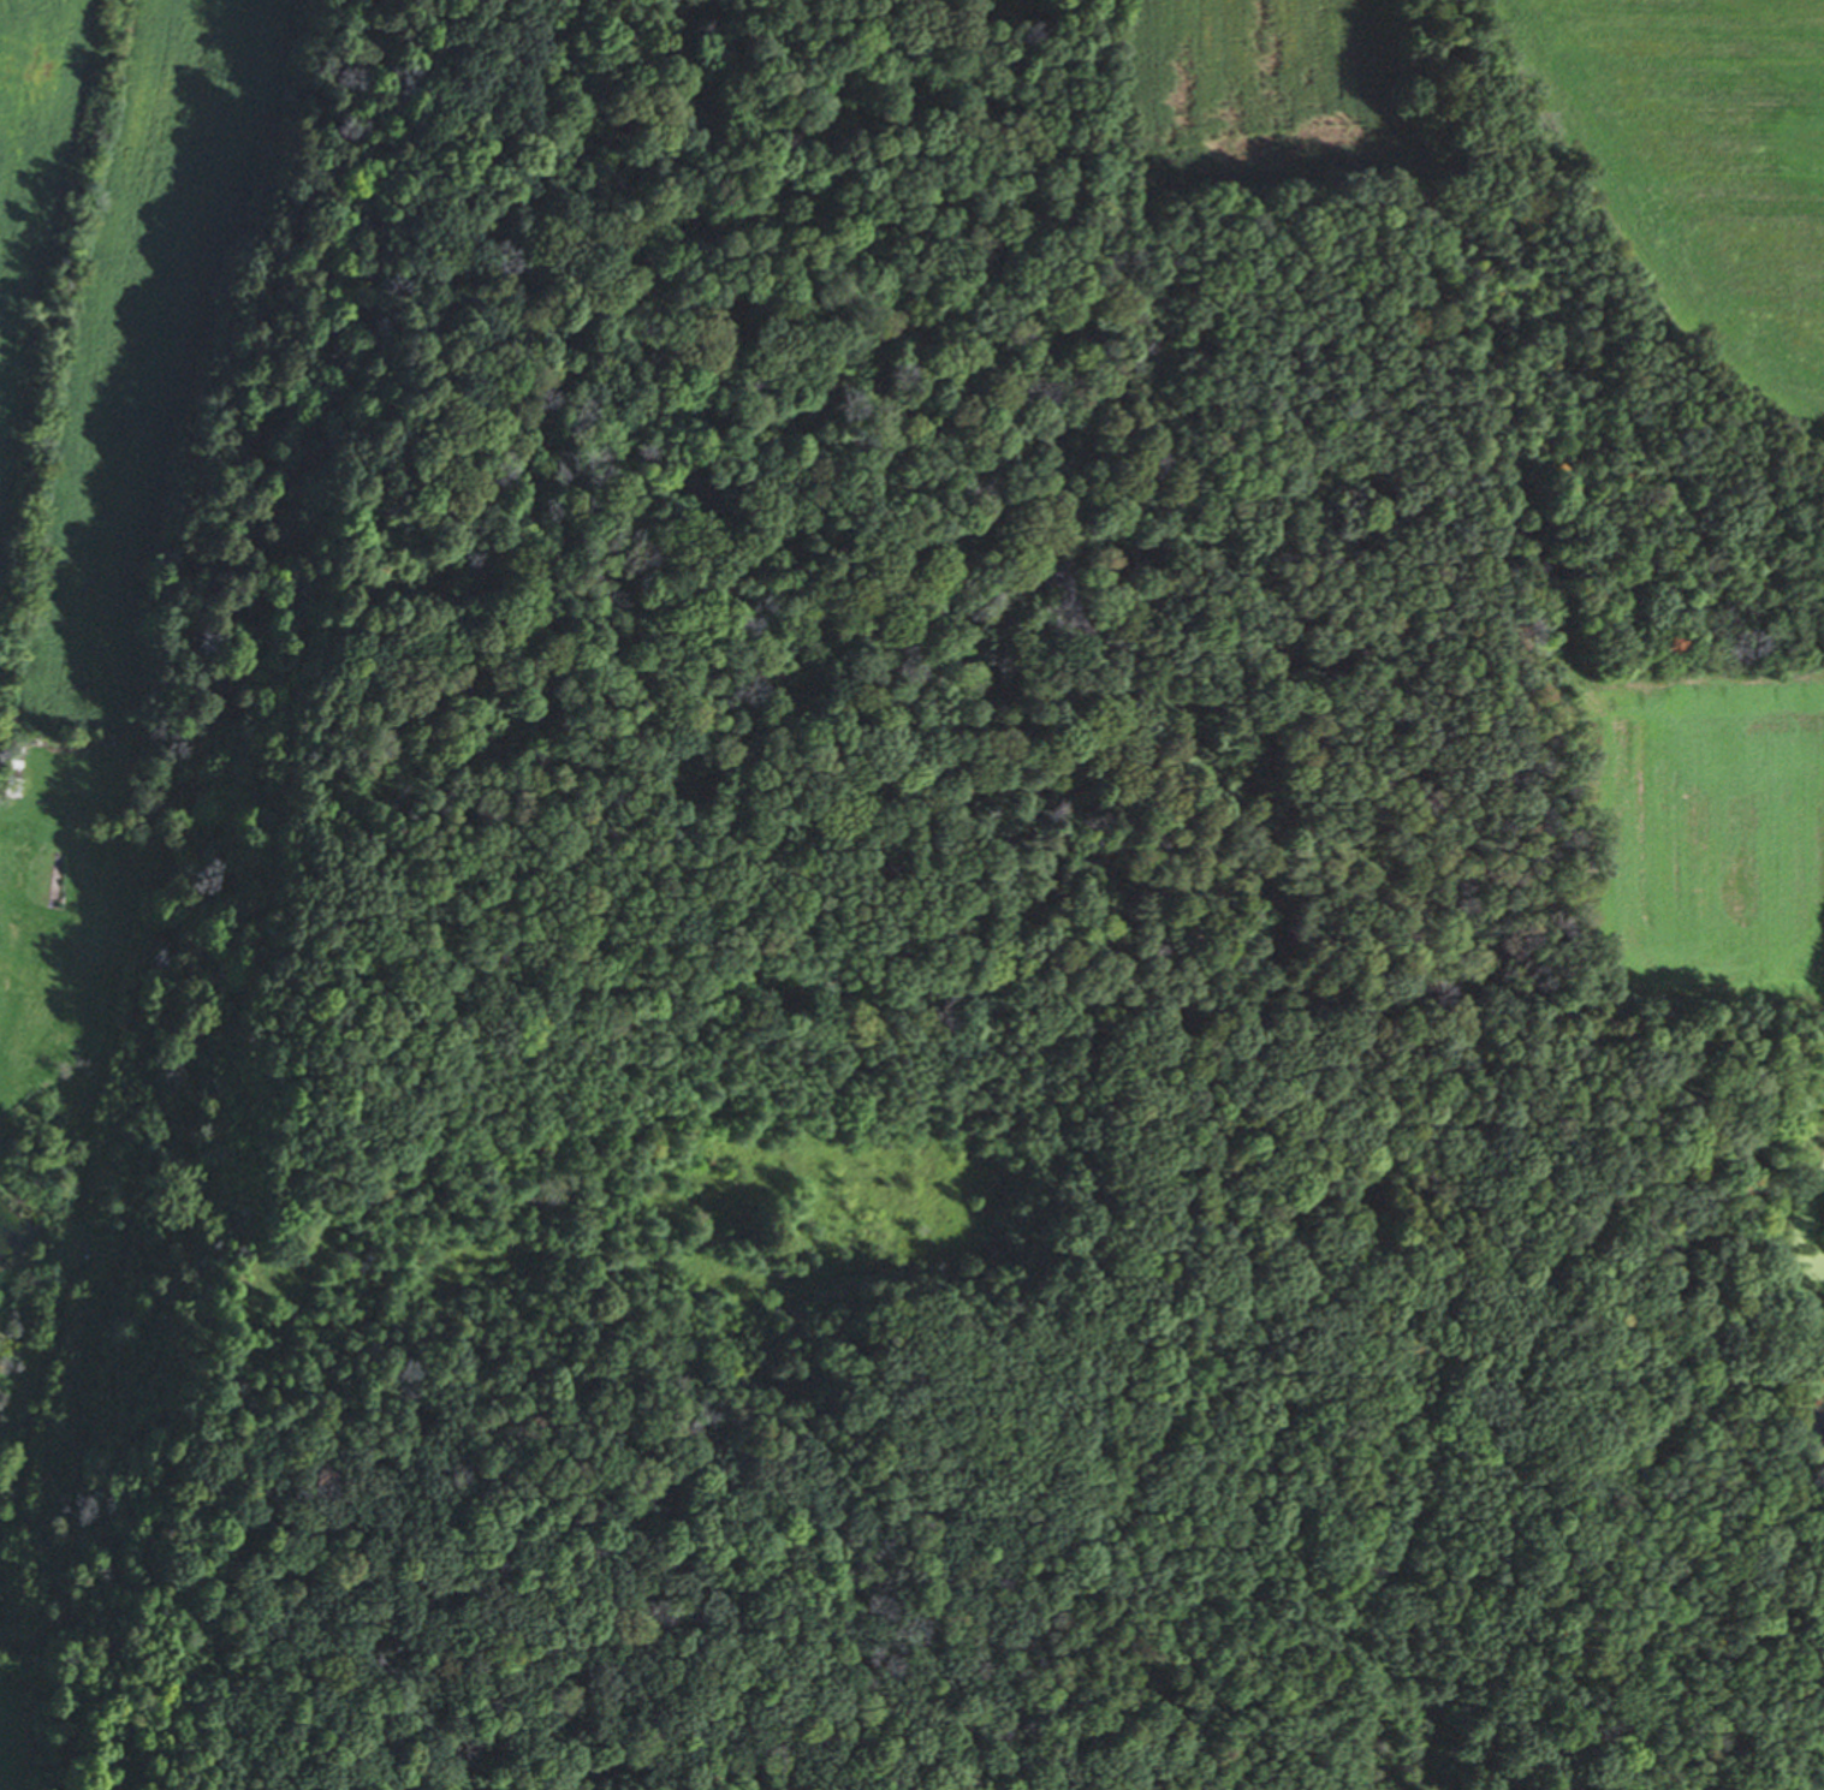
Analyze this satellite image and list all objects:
building: (16, 790)

